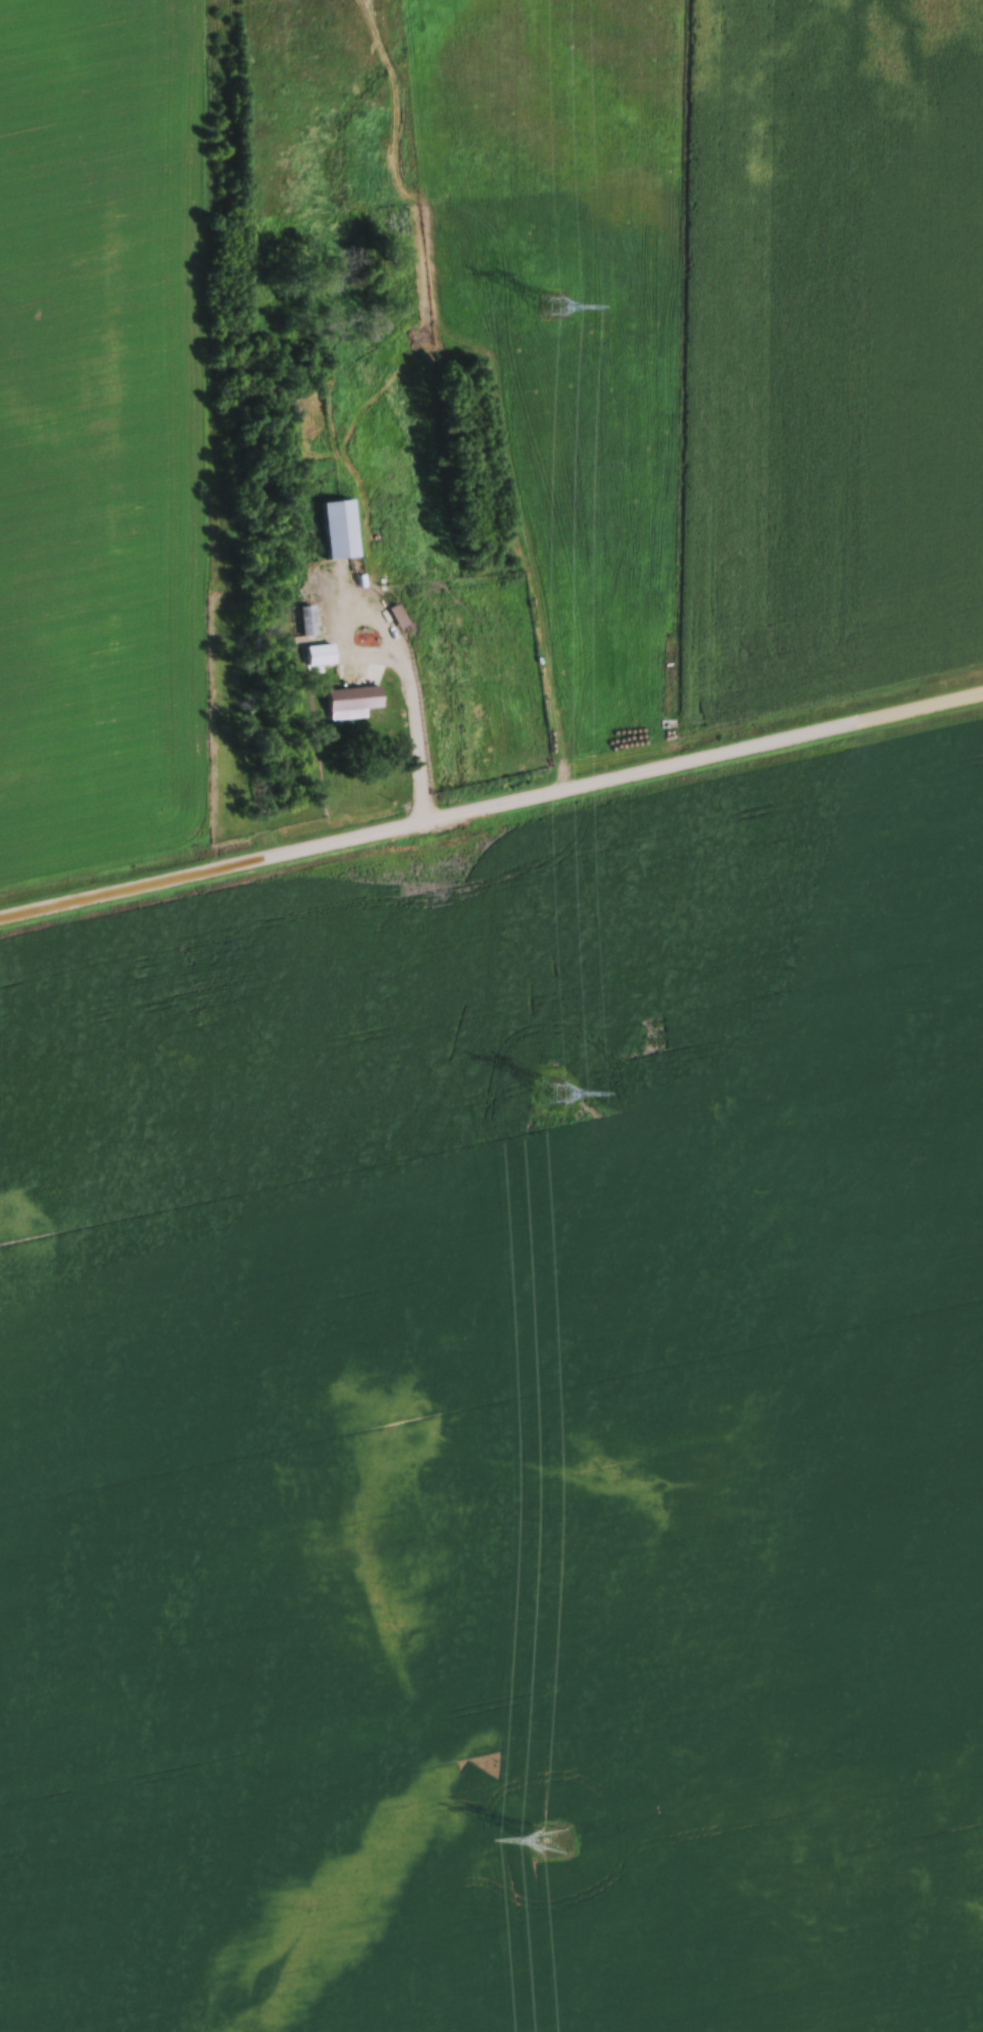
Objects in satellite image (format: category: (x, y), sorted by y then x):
power tower: (546, 304)
building: (335, 531)
building: (306, 622)
building: (317, 657)
road: (398, 663)
building: (349, 700)
road: (491, 803)
power tower: (555, 1097)
power tower: (556, 1843)

